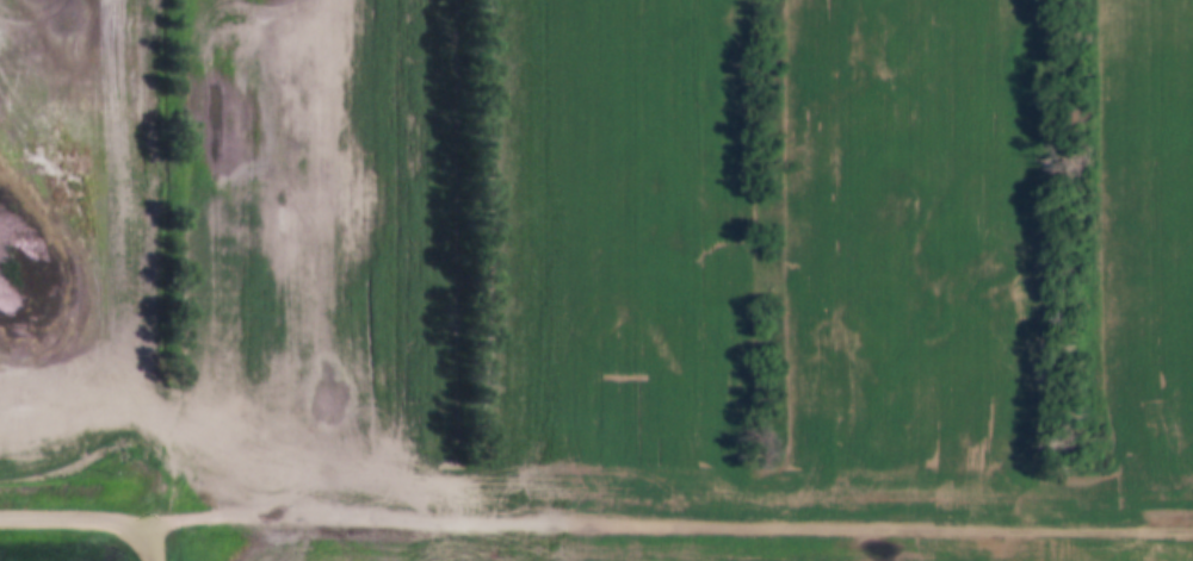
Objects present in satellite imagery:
road: (78, 512)
road: (674, 512)
road: (157, 538)

